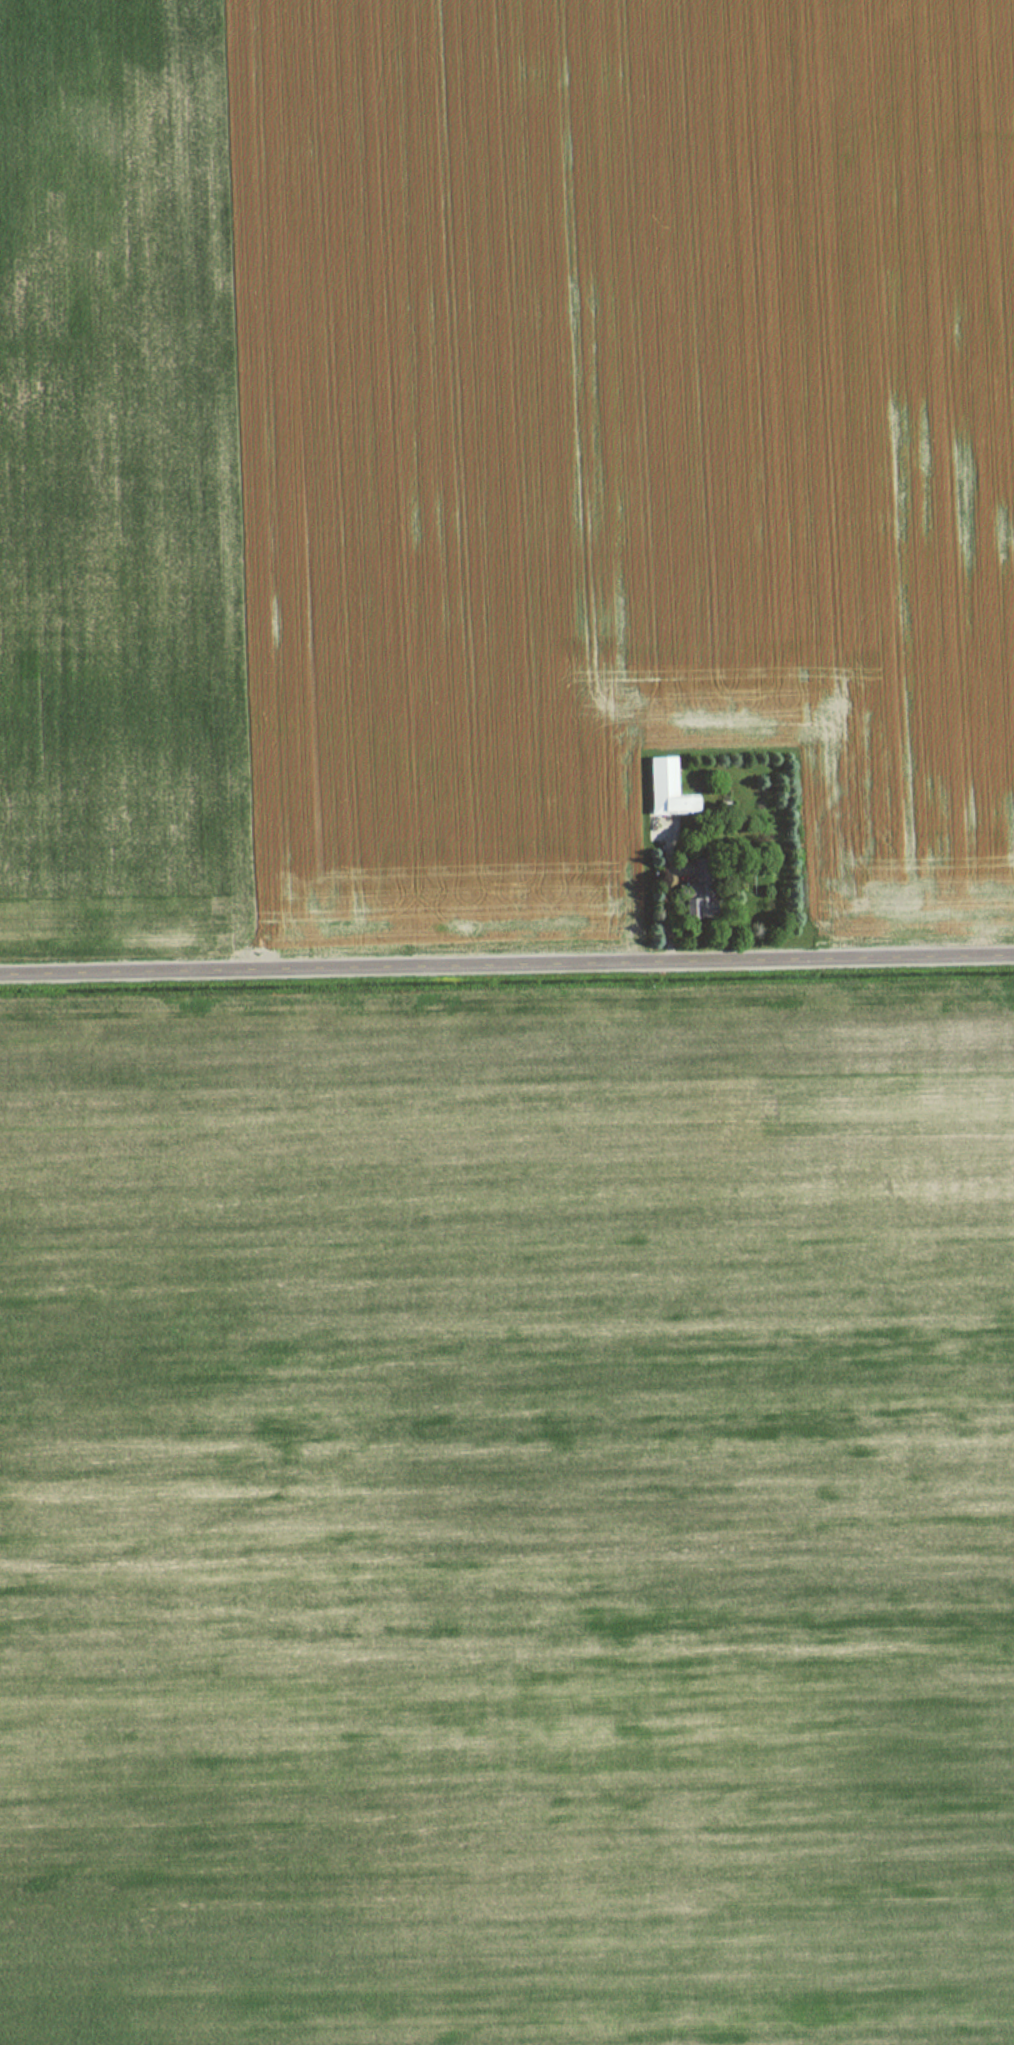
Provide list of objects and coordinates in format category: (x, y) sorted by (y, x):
crop: (496, 452)
building: (661, 787)
road: (507, 964)
crop: (507, 1524)

